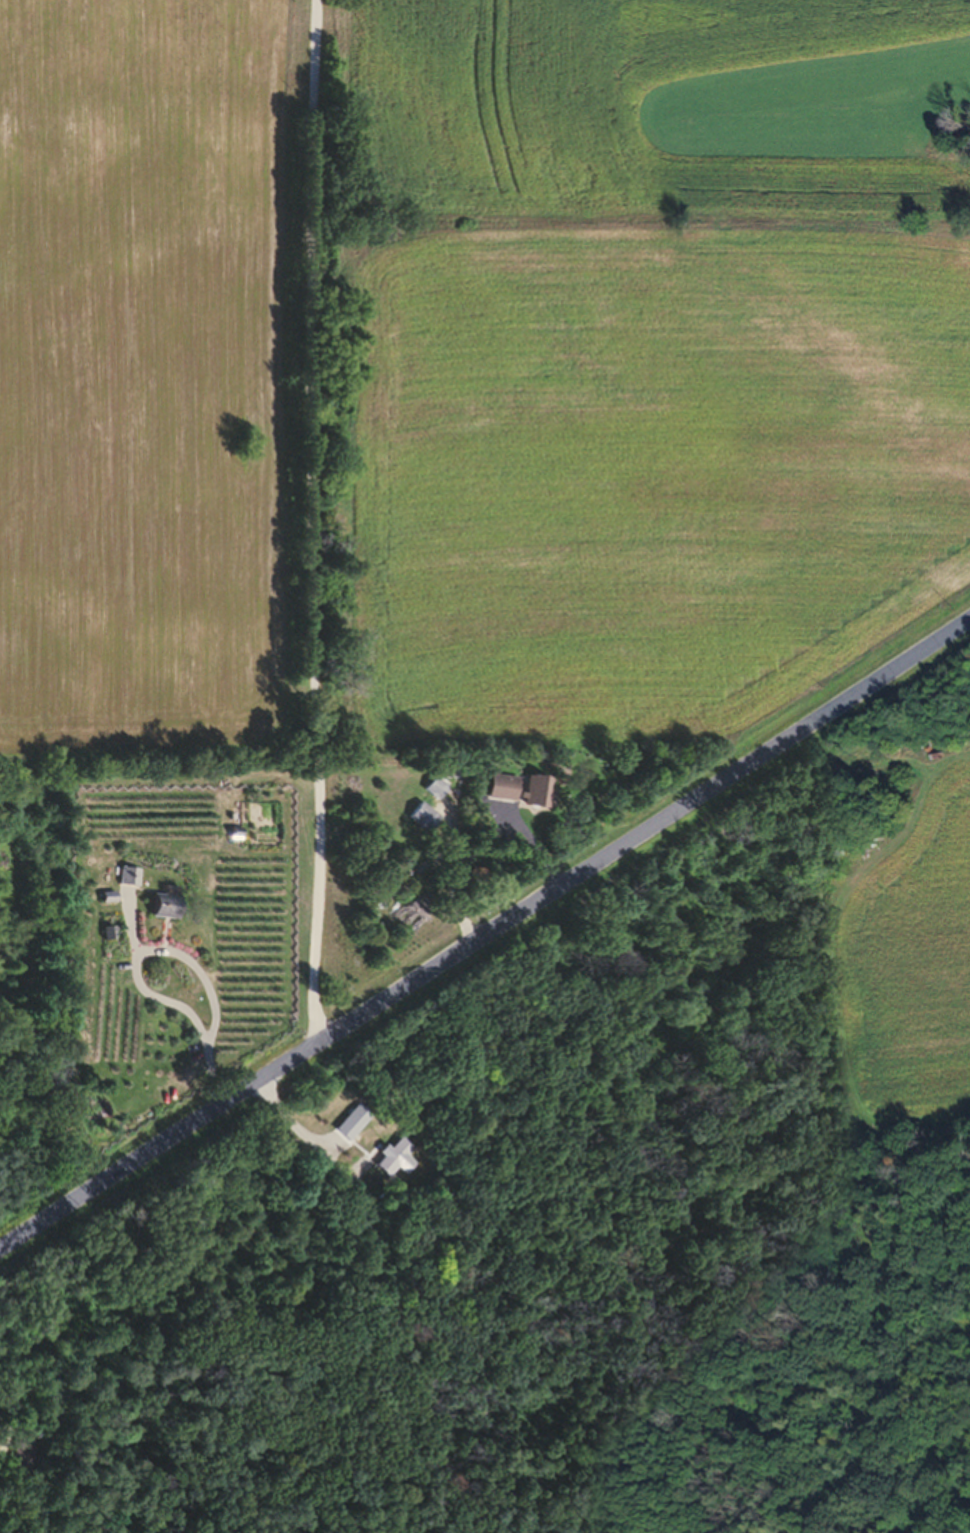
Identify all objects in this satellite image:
road: (312, 516)
building: (426, 796)
building: (492, 797)
building: (414, 825)
road: (484, 927)
road: (211, 999)

